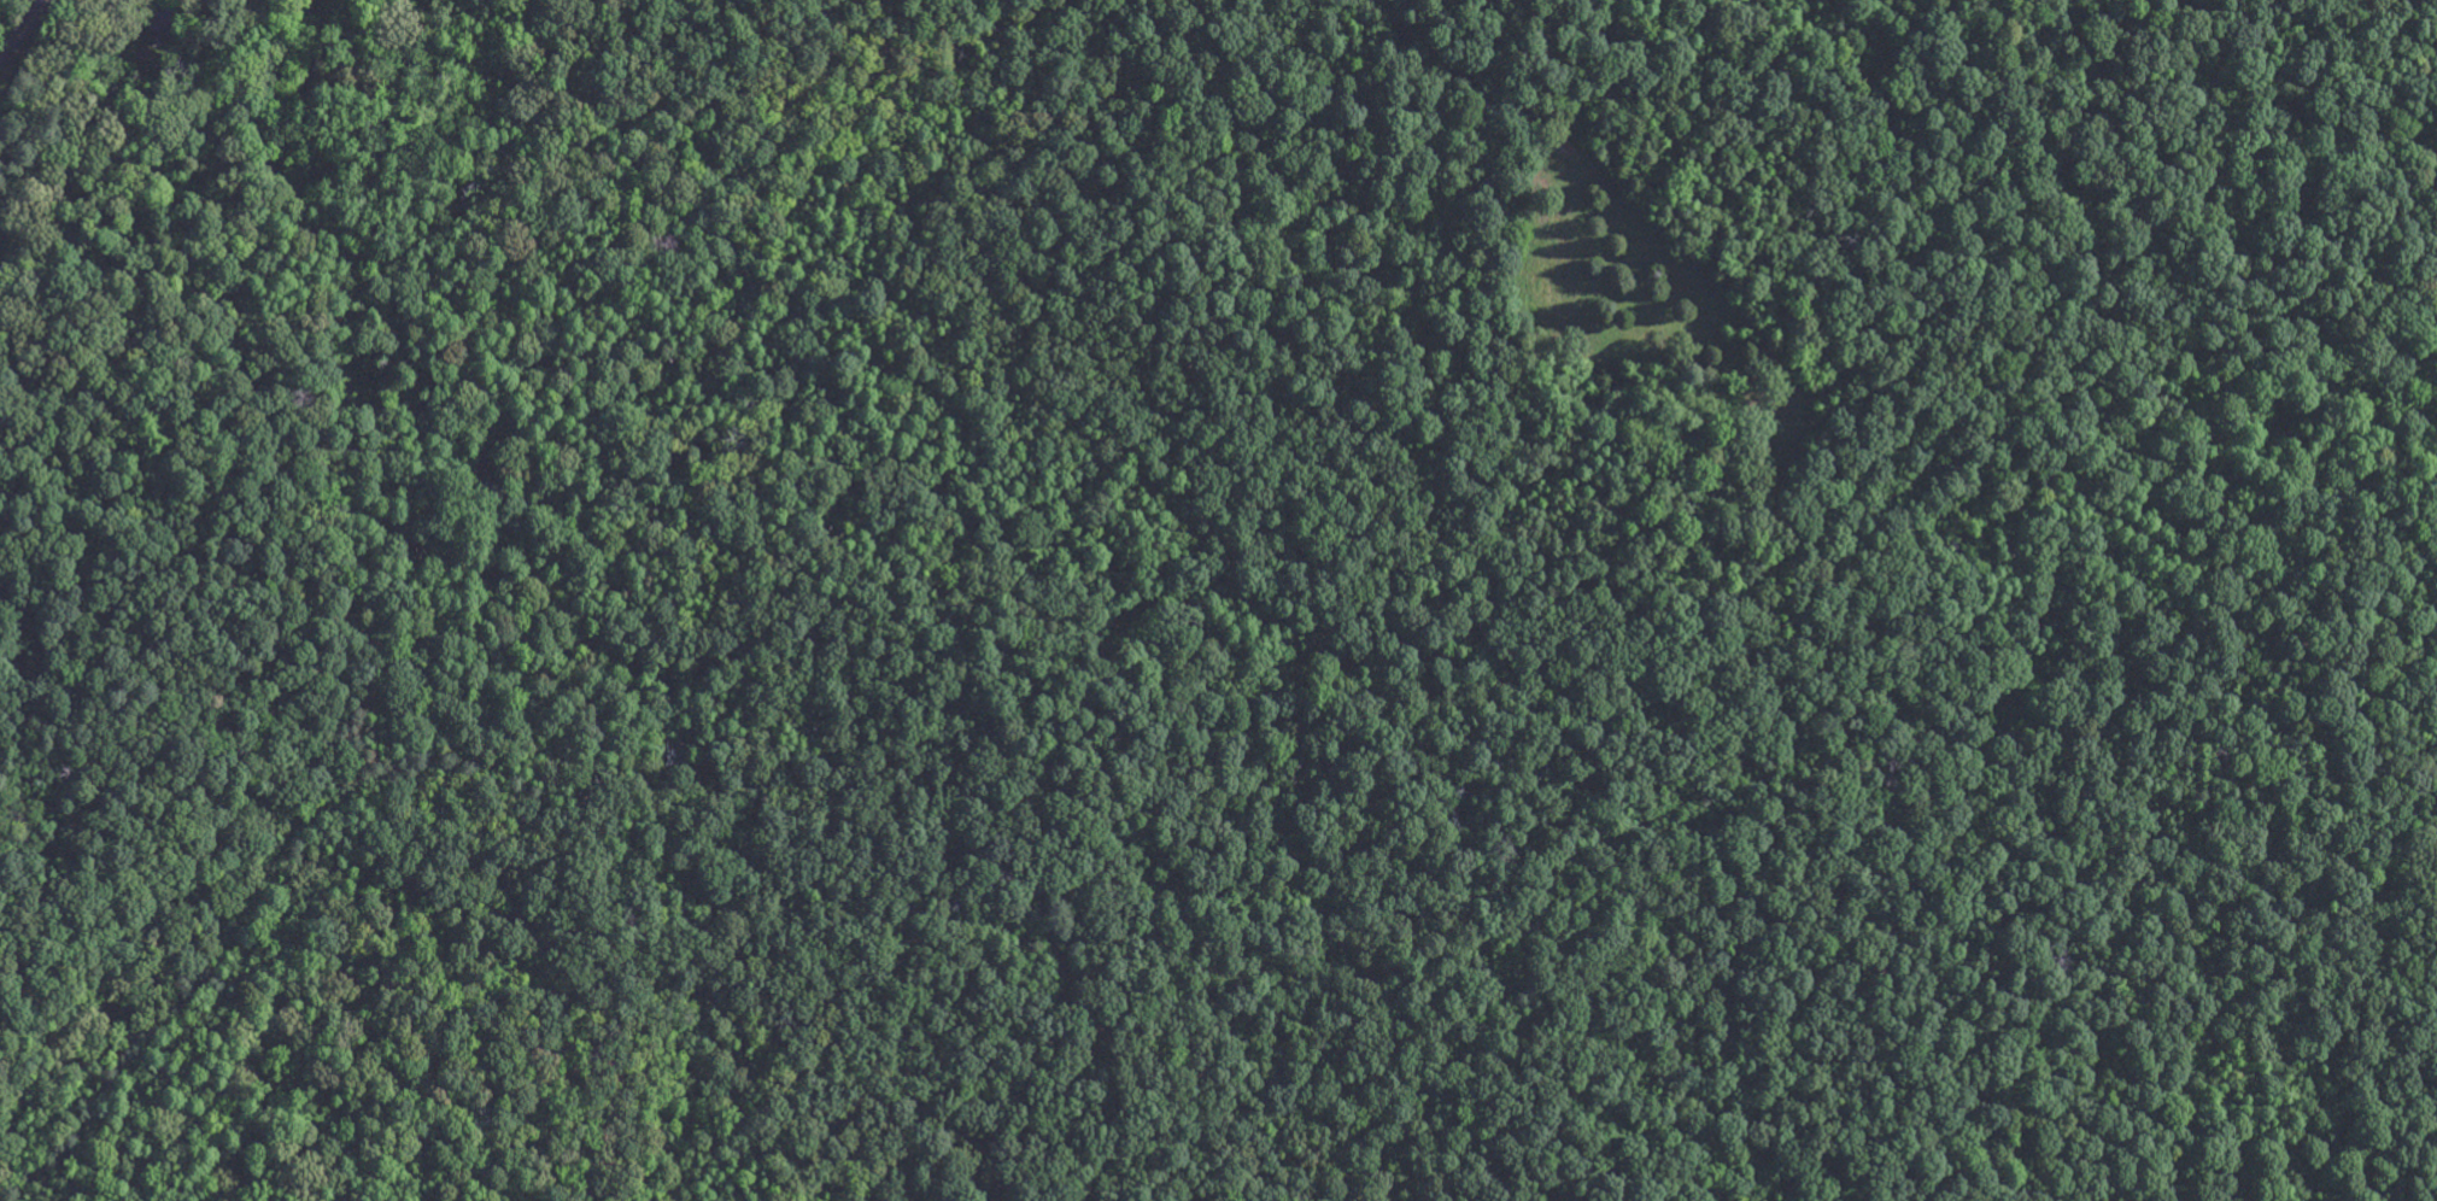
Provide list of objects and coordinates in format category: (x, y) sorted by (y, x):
road: (23, 30)

